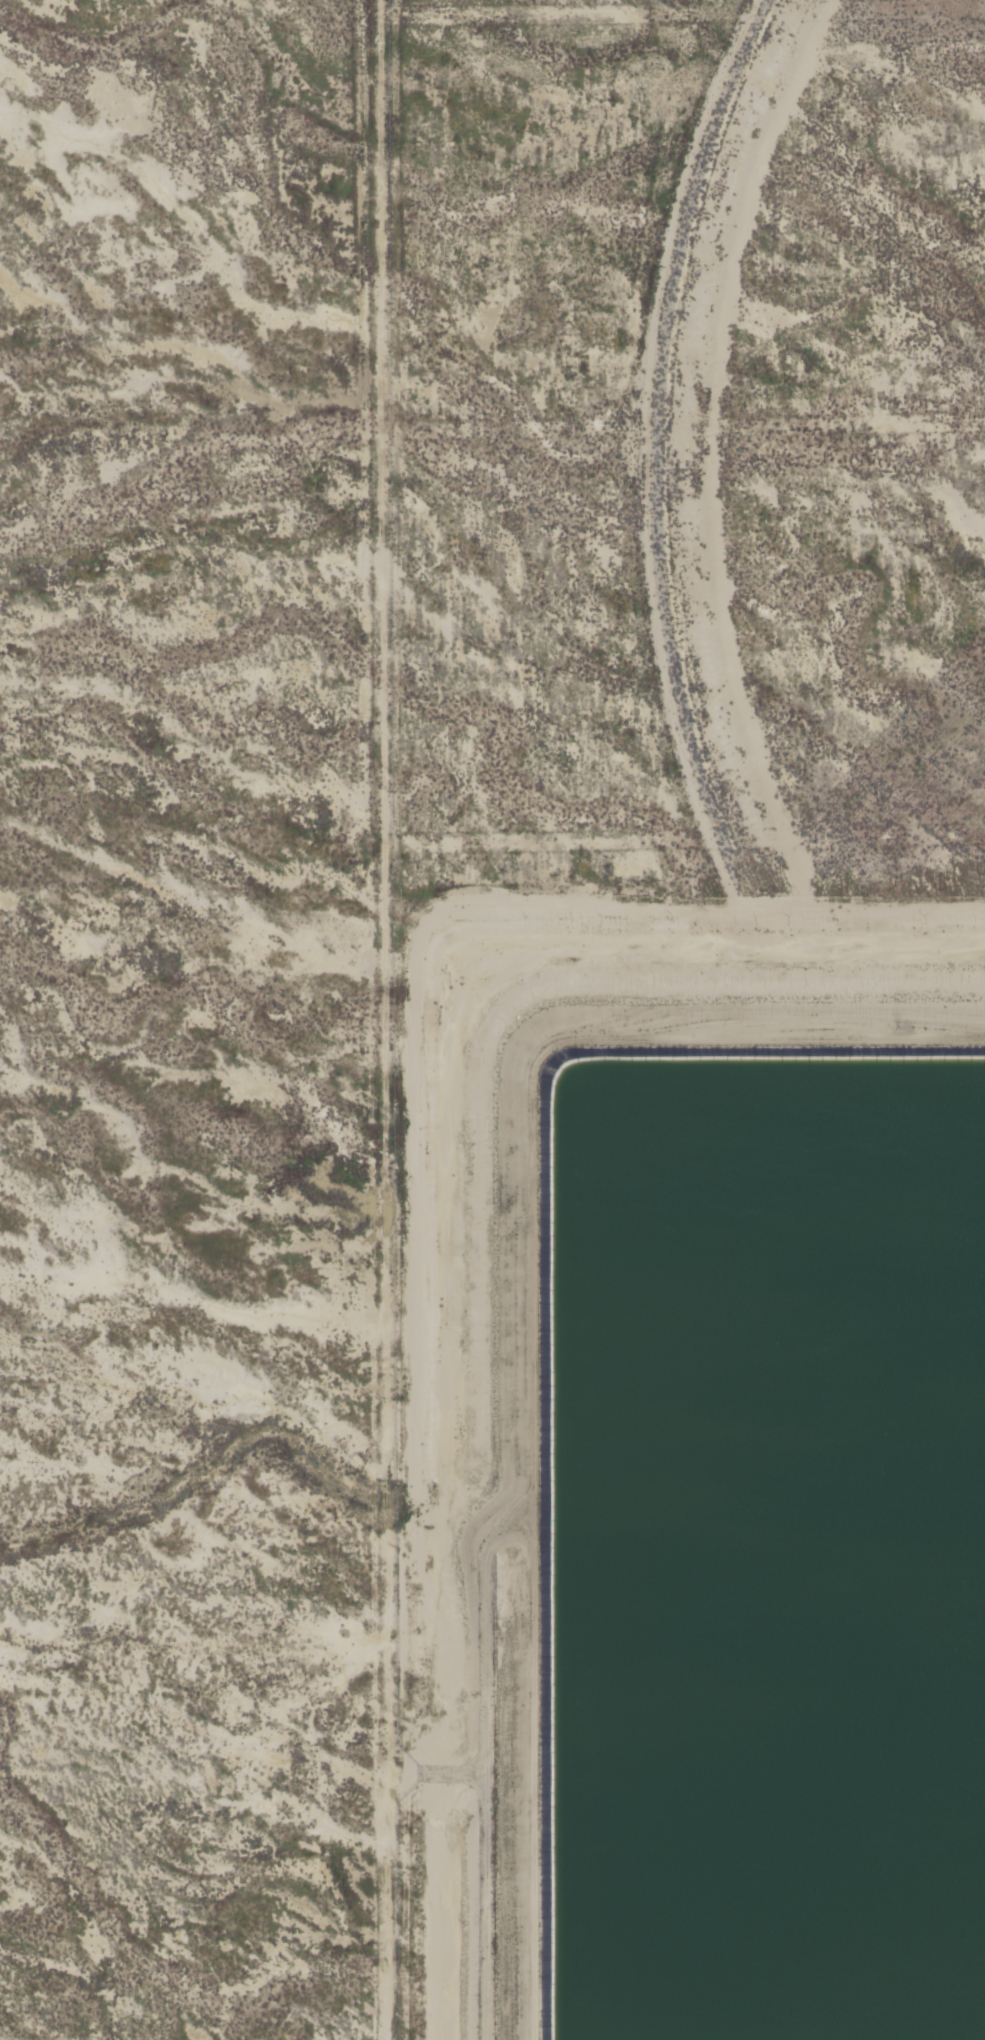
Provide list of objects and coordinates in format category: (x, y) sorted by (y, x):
wastewater plant: (691, 1468)

